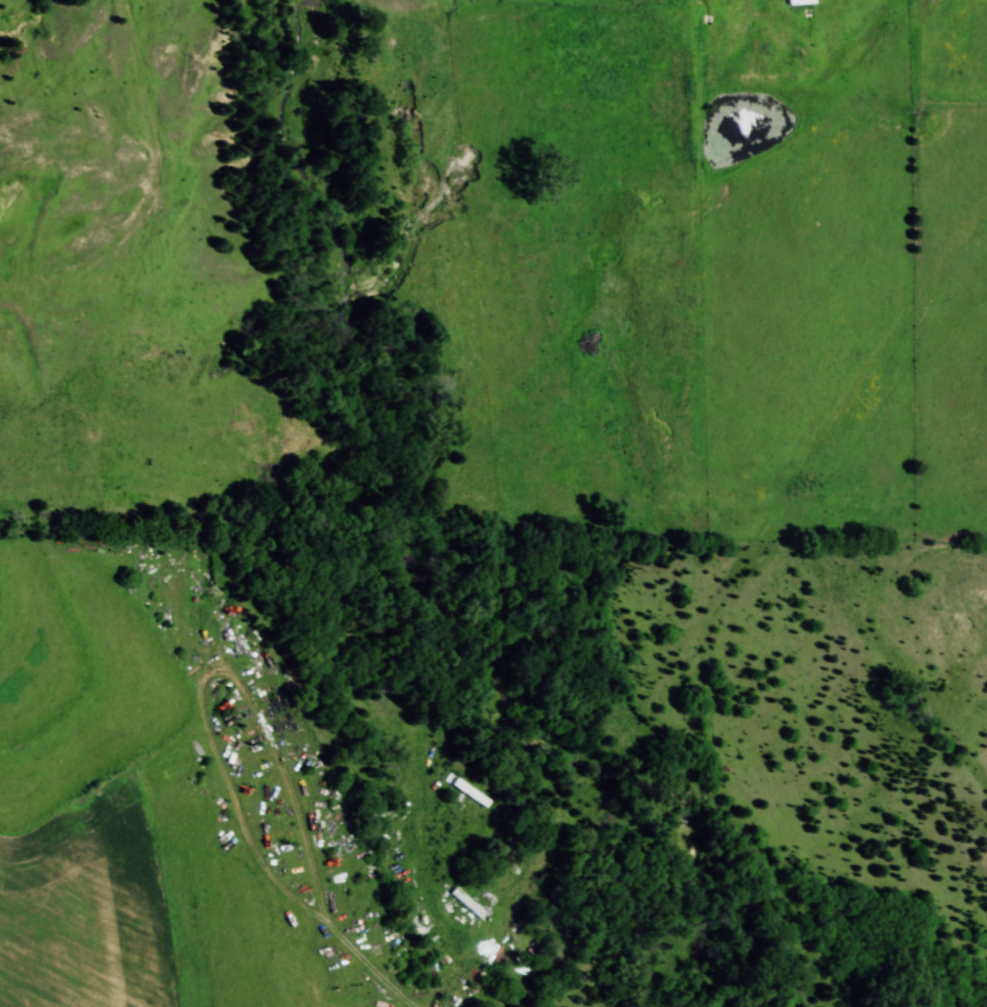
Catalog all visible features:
building: (800, 2)
building: (570, 8)
building: (347, 991)

